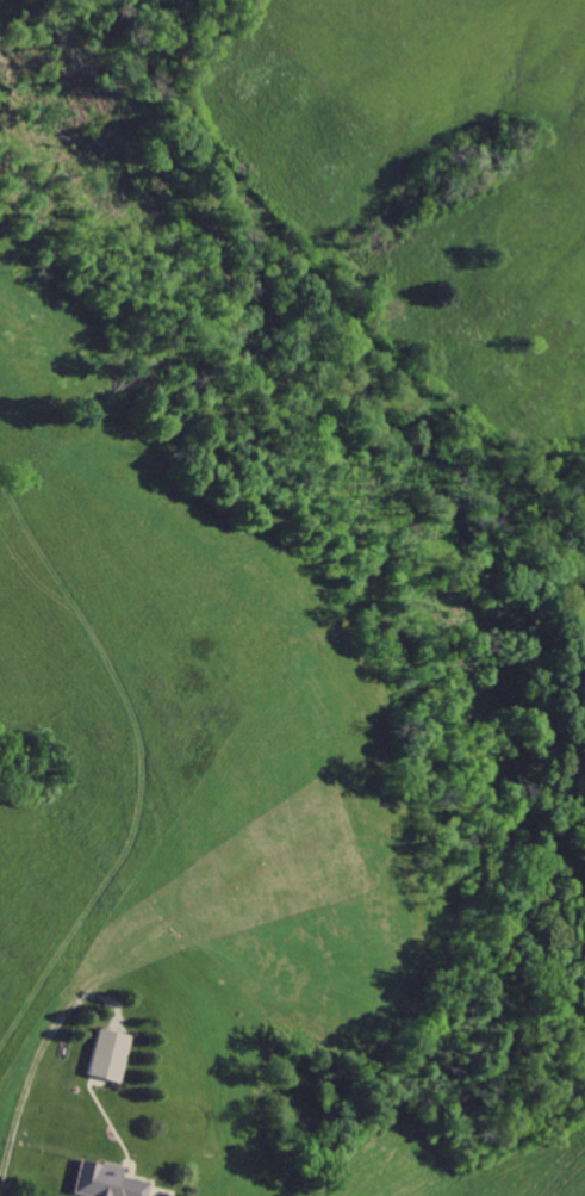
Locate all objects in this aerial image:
road: (38, 1049)
building: (113, 1055)
building: (110, 1179)
road: (155, 1195)

